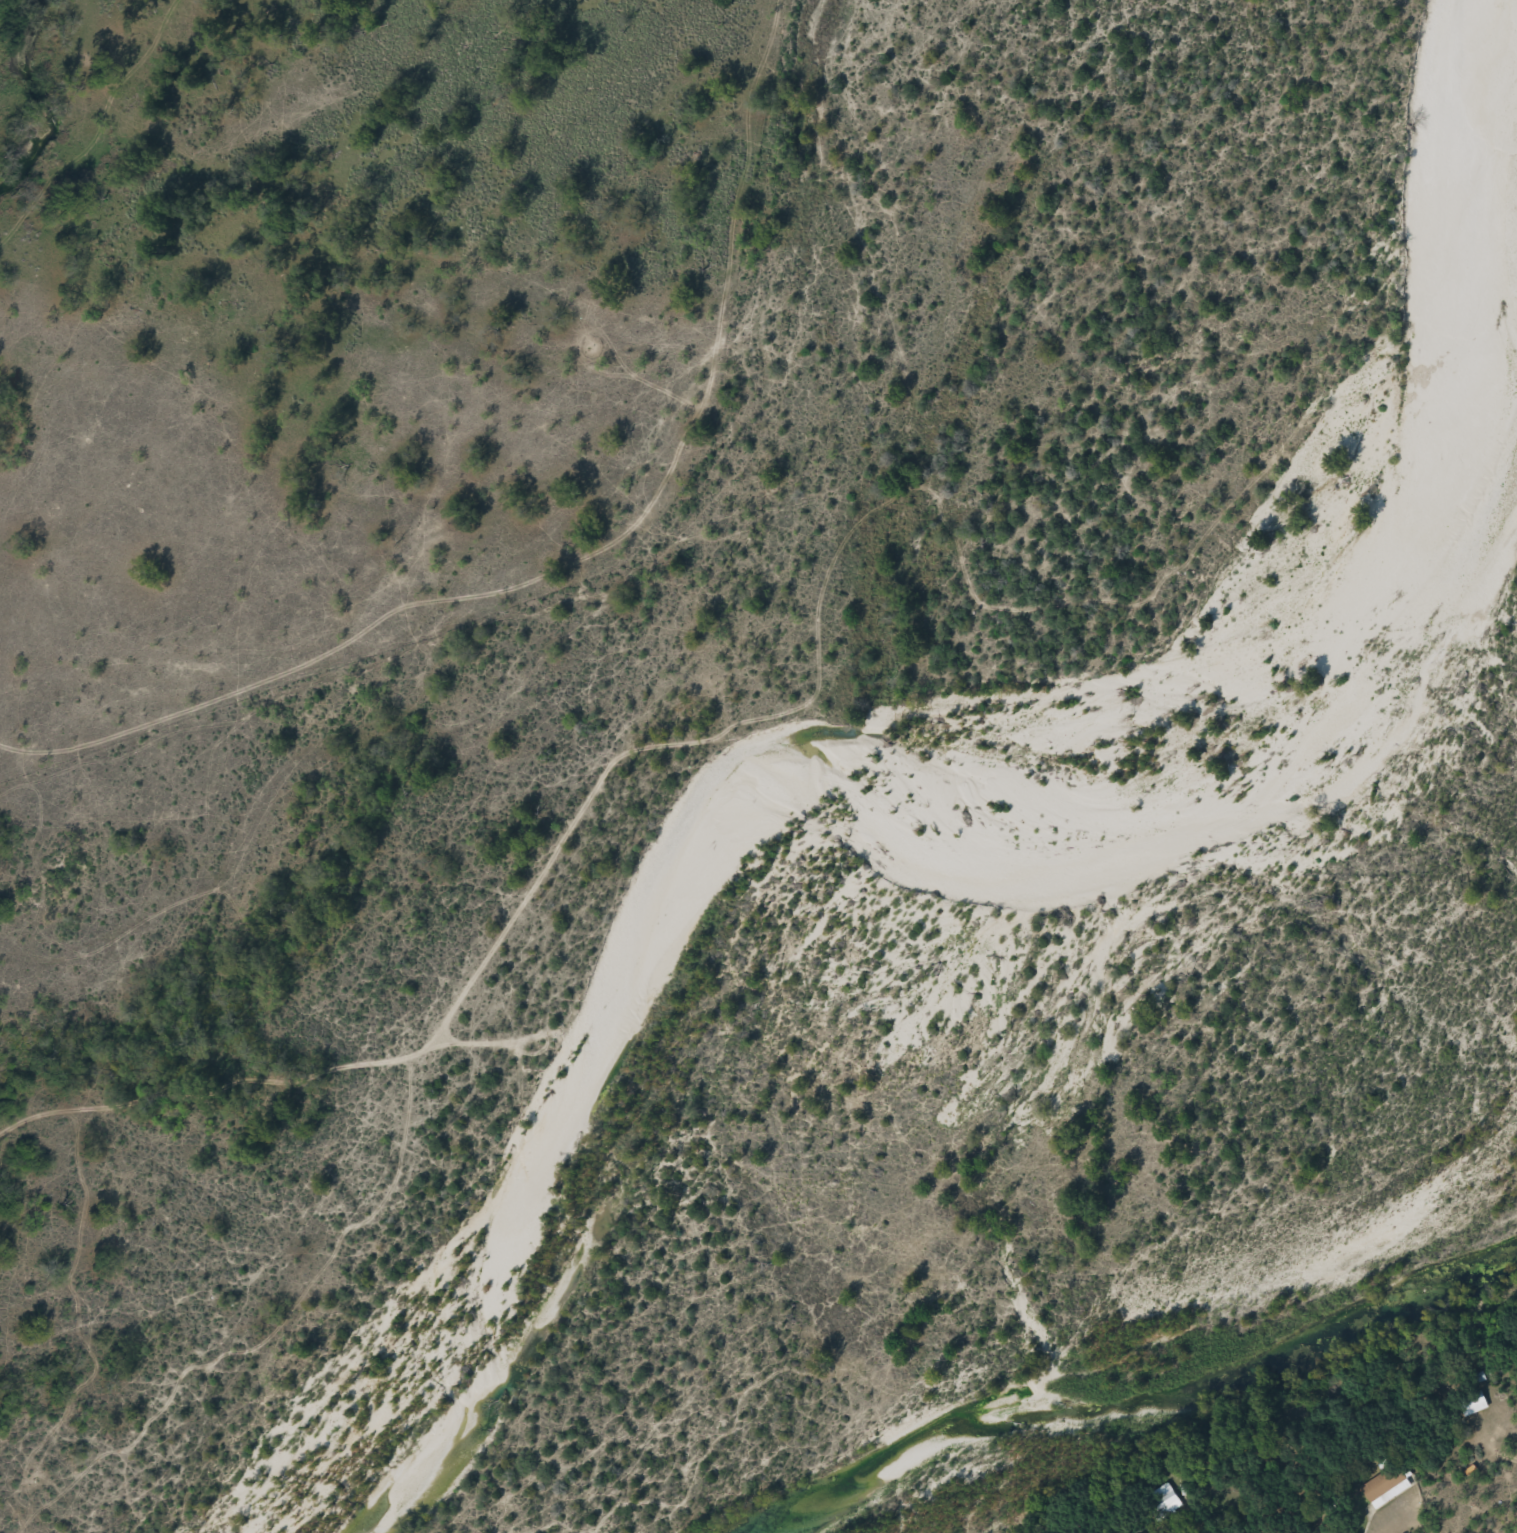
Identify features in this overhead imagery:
river: (1231, 1328)
building: (1383, 1483)
building: (1163, 1499)

